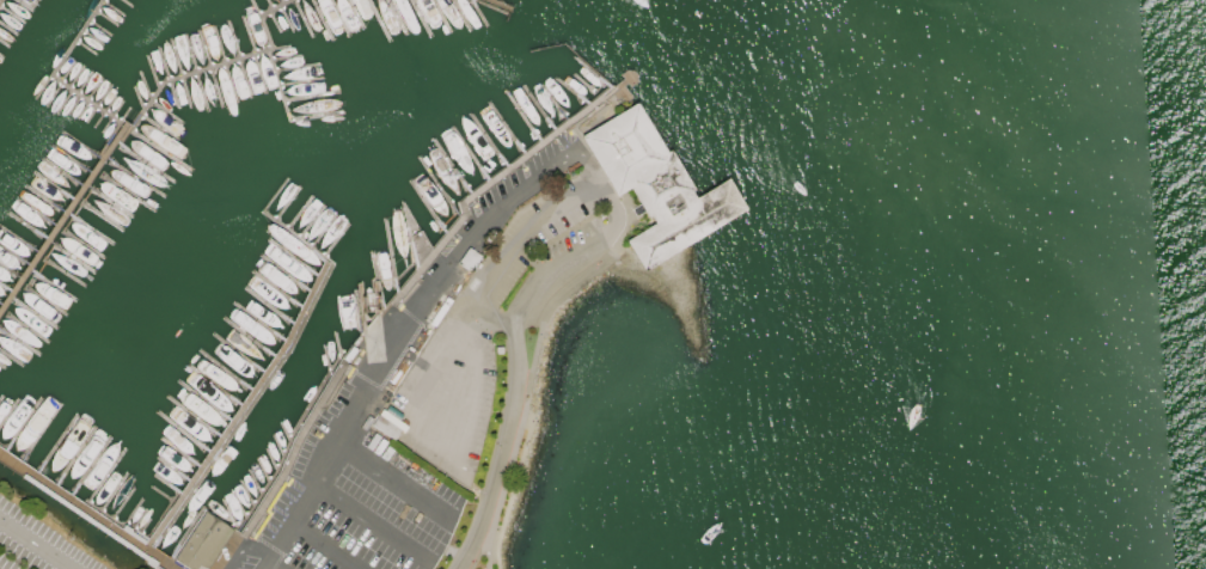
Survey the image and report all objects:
pier: (496, 2)
pier: (5, 7)
pier: (56, 73)
pier: (126, 124)
building: (660, 186)
pier: (702, 195)
pier: (300, 235)
road: (513, 250)
pier: (386, 304)
road: (408, 325)
parking lot: (478, 338)
road: (514, 353)
road: (532, 368)
pier: (253, 399)
road: (427, 440)
road: (392, 479)
parking lot: (350, 512)
road: (369, 521)
building: (202, 542)
road: (37, 543)
parking lot: (36, 544)
pier: (203, 544)
road: (325, 544)
park: (491, 561)
road: (270, 564)
railway: (4, 565)

